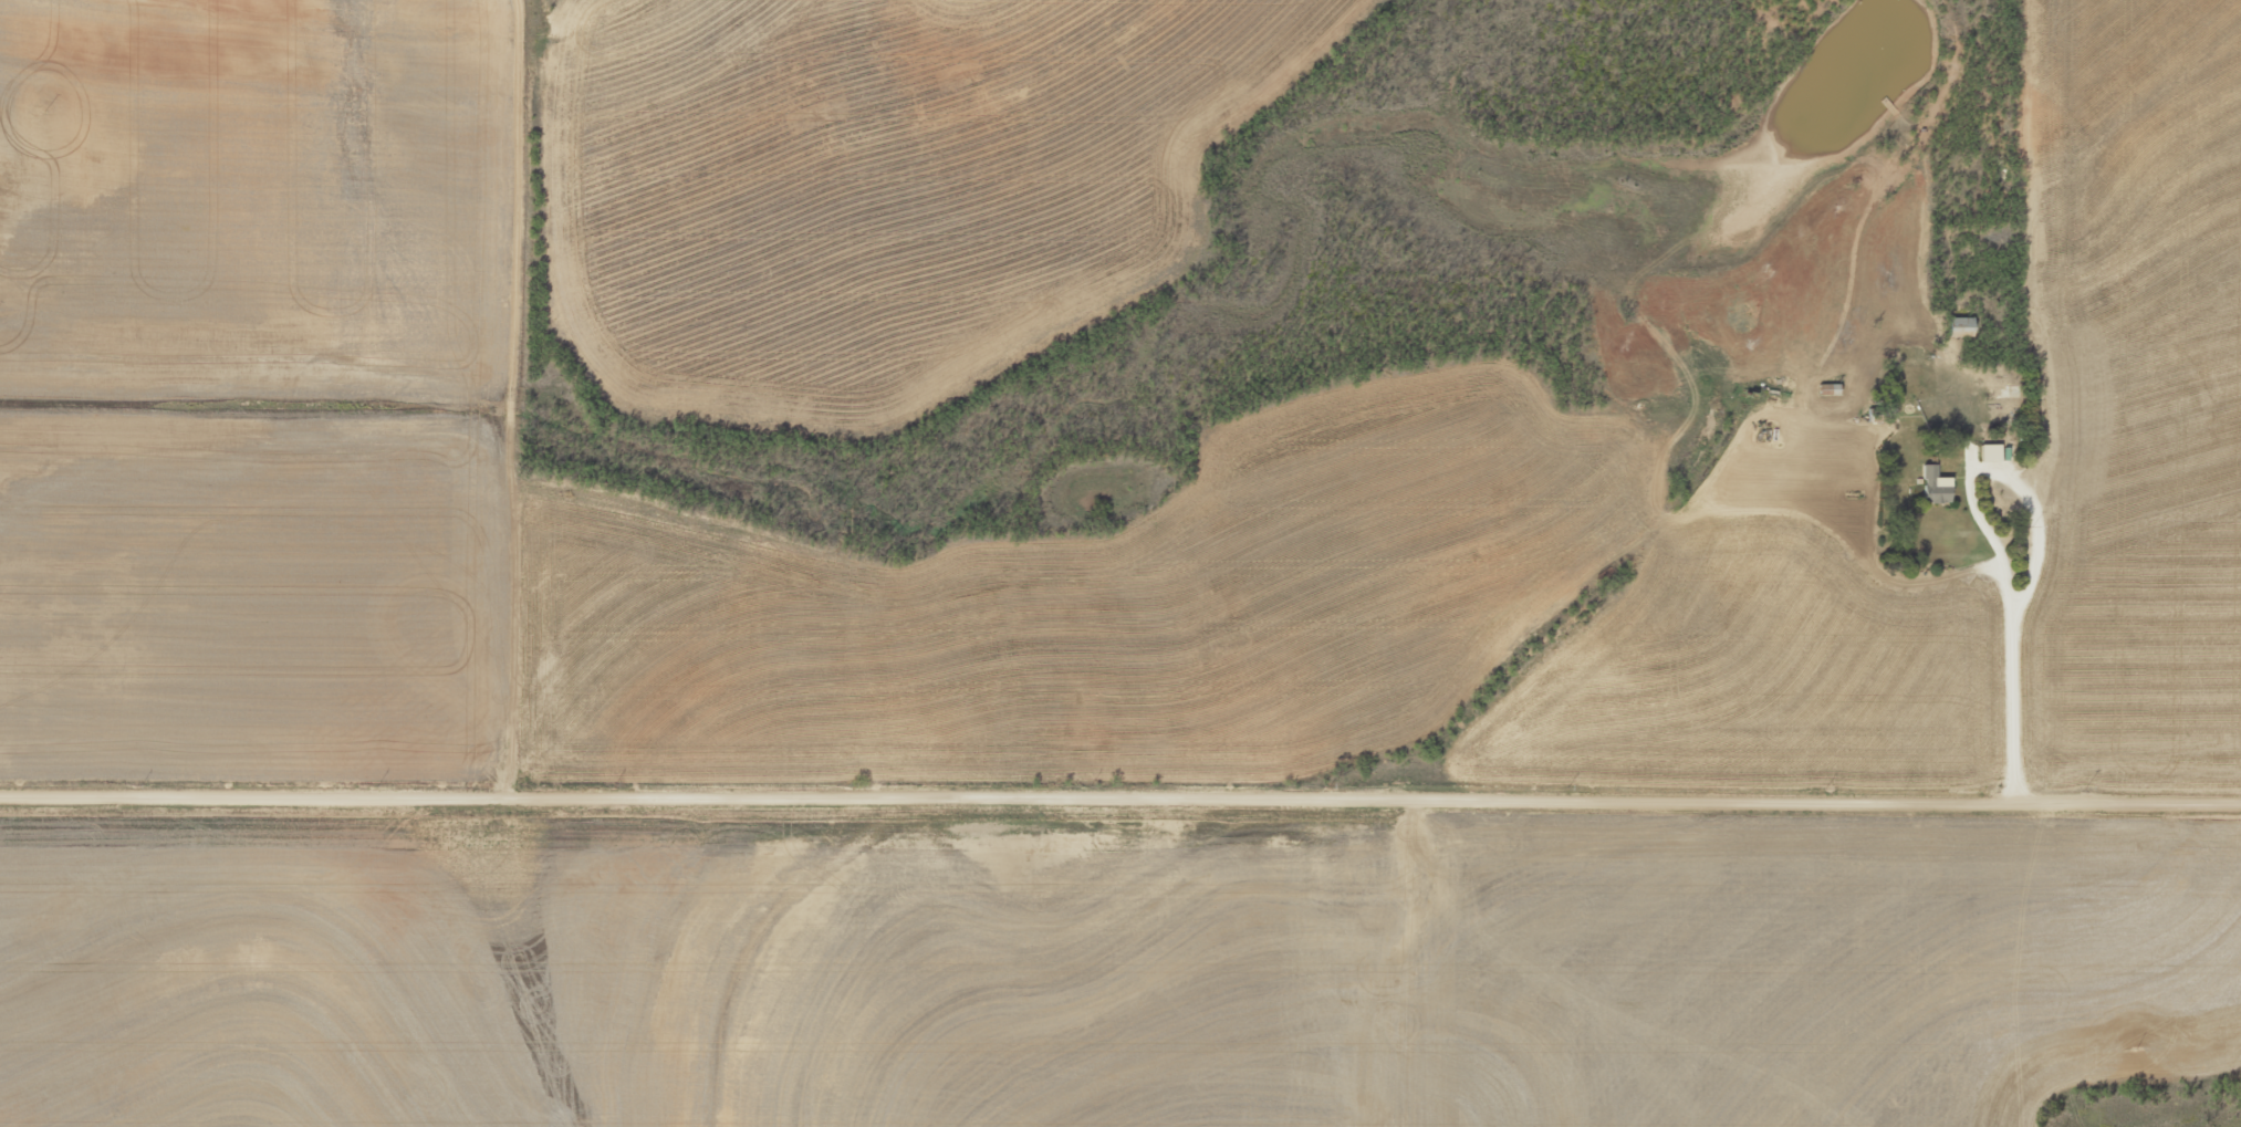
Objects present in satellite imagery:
building: (1960, 326)
building: (1990, 452)
road: (1120, 818)

